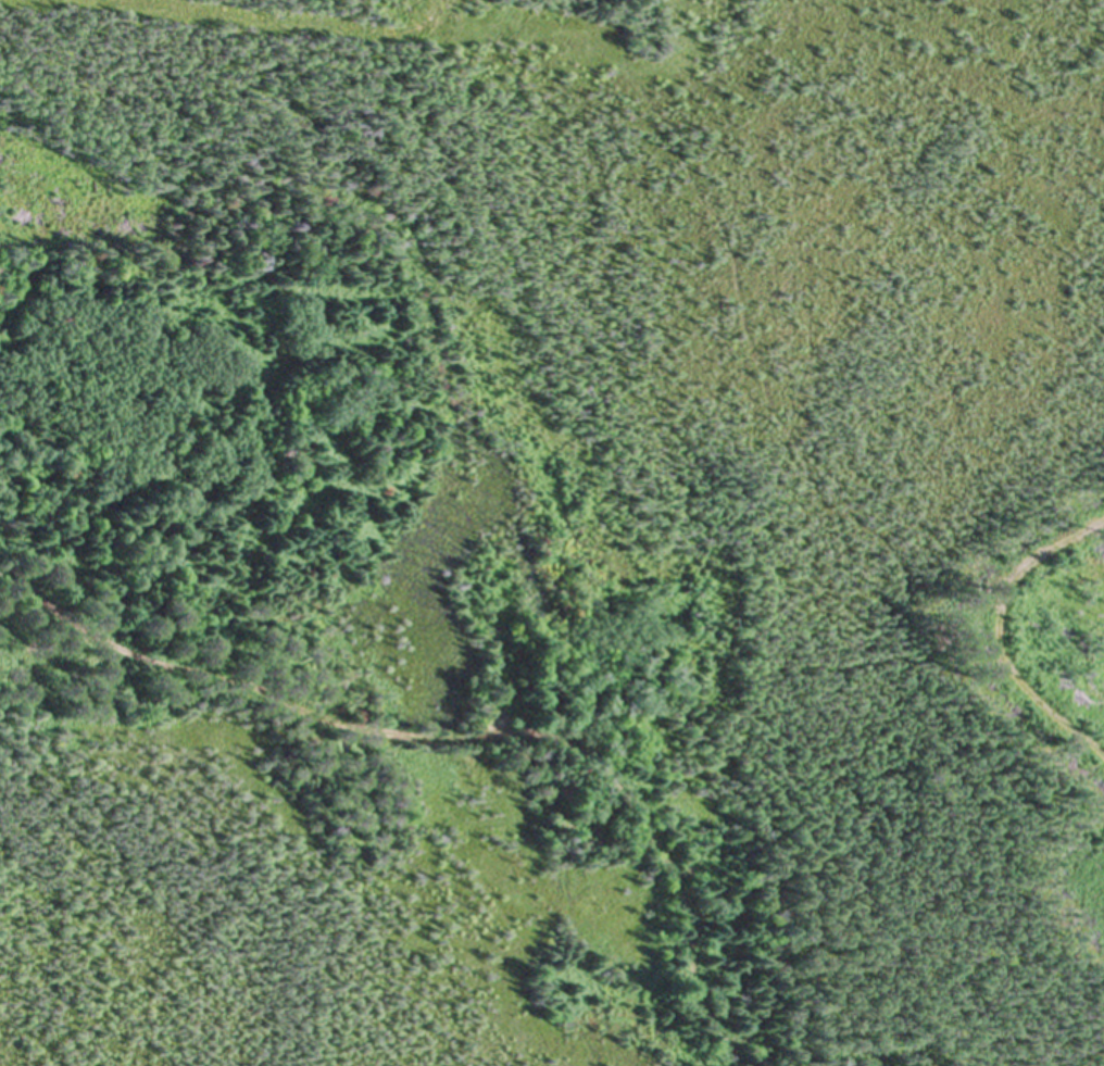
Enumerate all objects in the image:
road: (442, 710)

